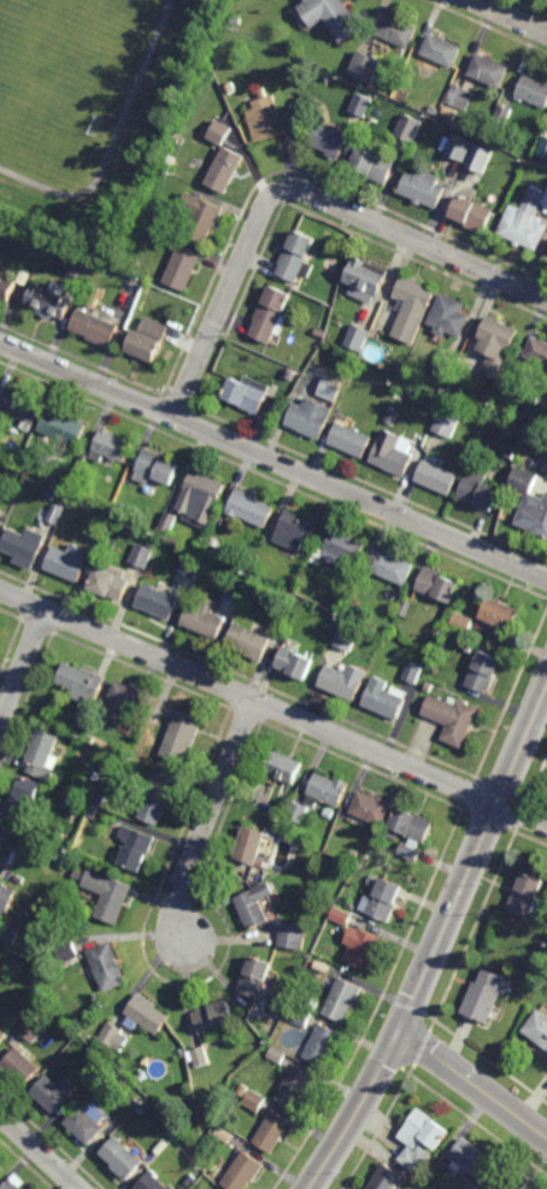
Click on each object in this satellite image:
building: (333, 16)
road: (510, 16)
building: (237, 19)
building: (398, 30)
building: (443, 49)
building: (365, 66)
building: (490, 70)
building: (534, 90)
building: (311, 93)
building: (461, 96)
building: (387, 99)
building: (363, 105)
building: (437, 110)
building: (505, 115)
building: (269, 117)
building: (411, 127)
building: (220, 133)
building: (331, 140)
building: (460, 147)
building: (481, 158)
building: (375, 165)
building: (227, 171)
building: (425, 187)
road: (300, 188)
building: (546, 204)
building: (151, 210)
building: (474, 215)
building: (202, 217)
building: (528, 222)
building: (22, 234)
building: (298, 258)
building: (184, 269)
building: (366, 281)
building: (11, 285)
building: (63, 291)
building: (48, 304)
building: (413, 309)
building: (272, 316)
building: (449, 317)
building: (94, 328)
building: (322, 335)
building: (360, 339)
building: (148, 340)
building: (498, 348)
building: (539, 353)
building: (449, 363)
building: (401, 368)
building: (522, 370)
building: (292, 375)
building: (333, 391)
building: (247, 394)
building: (20, 409)
building: (393, 418)
building: (312, 420)
building: (525, 420)
building: (448, 424)
building: (61, 428)
building: (352, 443)
building: (111, 450)
building: (396, 455)
building: (512, 456)
road: (273, 458)
building: (546, 468)
building: (153, 471)
building: (439, 480)
building: (58, 490)
building: (480, 490)
building: (51, 500)
building: (201, 502)
building: (531, 502)
building: (11, 504)
building: (72, 506)
building: (0, 509)
building: (252, 511)
building: (118, 516)
building: (57, 517)
building: (222, 523)
building: (169, 525)
building: (295, 531)
building: (99, 535)
building: (153, 544)
building: (24, 546)
building: (339, 546)
building: (141, 556)
building: (67, 562)
building: (189, 563)
building: (390, 563)
building: (108, 579)
building: (235, 582)
building: (439, 582)
building: (157, 597)
building: (406, 605)
building: (483, 610)
building: (337, 615)
building: (204, 616)
building: (324, 632)
building: (347, 634)
building: (247, 639)
building: (470, 646)
building: (293, 661)
building: (484, 669)
road: (23, 670)
building: (413, 672)
building: (343, 679)
building: (80, 681)
building: (384, 696)
building: (123, 702)
road: (273, 705)
building: (452, 716)
building: (87, 719)
building: (180, 736)
building: (89, 737)
building: (40, 752)
building: (141, 757)
building: (282, 768)
building: (328, 790)
building: (23, 796)
building: (155, 802)
building: (372, 807)
building: (92, 810)
building: (298, 812)
building: (329, 812)
road: (205, 820)
building: (410, 831)
building: (346, 843)
building: (248, 844)
building: (7, 845)
building: (134, 848)
building: (53, 855)
road: (474, 861)
building: (18, 880)
building: (106, 894)
building: (5, 897)
building: (383, 897)
building: (528, 900)
building: (254, 906)
building: (341, 915)
building: (8, 931)
building: (293, 937)
building: (361, 947)
building: (67, 954)
building: (12, 965)
building: (107, 967)
building: (322, 967)
building: (255, 976)
building: (486, 997)
building: (342, 1000)
building: (146, 1014)
building: (301, 1015)
building: (214, 1017)
building: (33, 1030)
building: (537, 1030)
building: (63, 1035)
building: (2, 1036)
building: (114, 1037)
building: (322, 1045)
building: (87, 1053)
building: (277, 1054)
building: (201, 1056)
building: (19, 1067)
building: (142, 1077)
road: (475, 1084)
building: (296, 1088)
building: (53, 1093)
building: (255, 1101)
building: (134, 1103)
road: (360, 1111)
building: (87, 1123)
building: (173, 1131)
building: (424, 1131)
building: (272, 1132)
building: (225, 1135)
road: (40, 1152)
building: (122, 1159)
building: (417, 1160)
building: (469, 1160)
building: (1, 1170)
building: (245, 1172)
building: (387, 1178)
building: (190, 1179)
building: (510, 1182)
building: (14, 1183)
building: (152, 1183)
building: (471, 1185)

